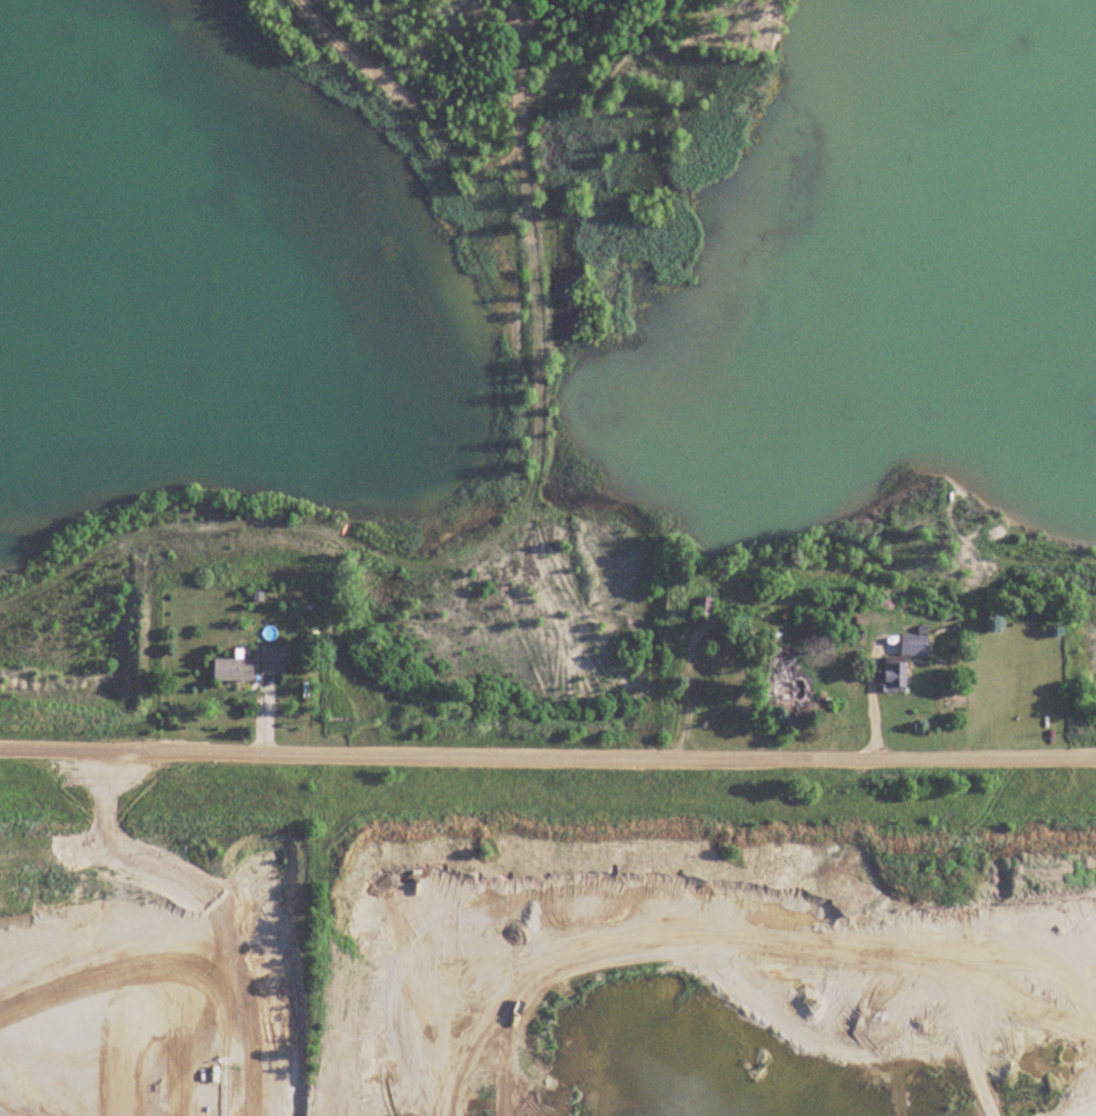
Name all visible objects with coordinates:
building: (705, 607)
building: (274, 658)
building: (903, 662)
building: (234, 668)
building: (789, 675)
road: (547, 754)

